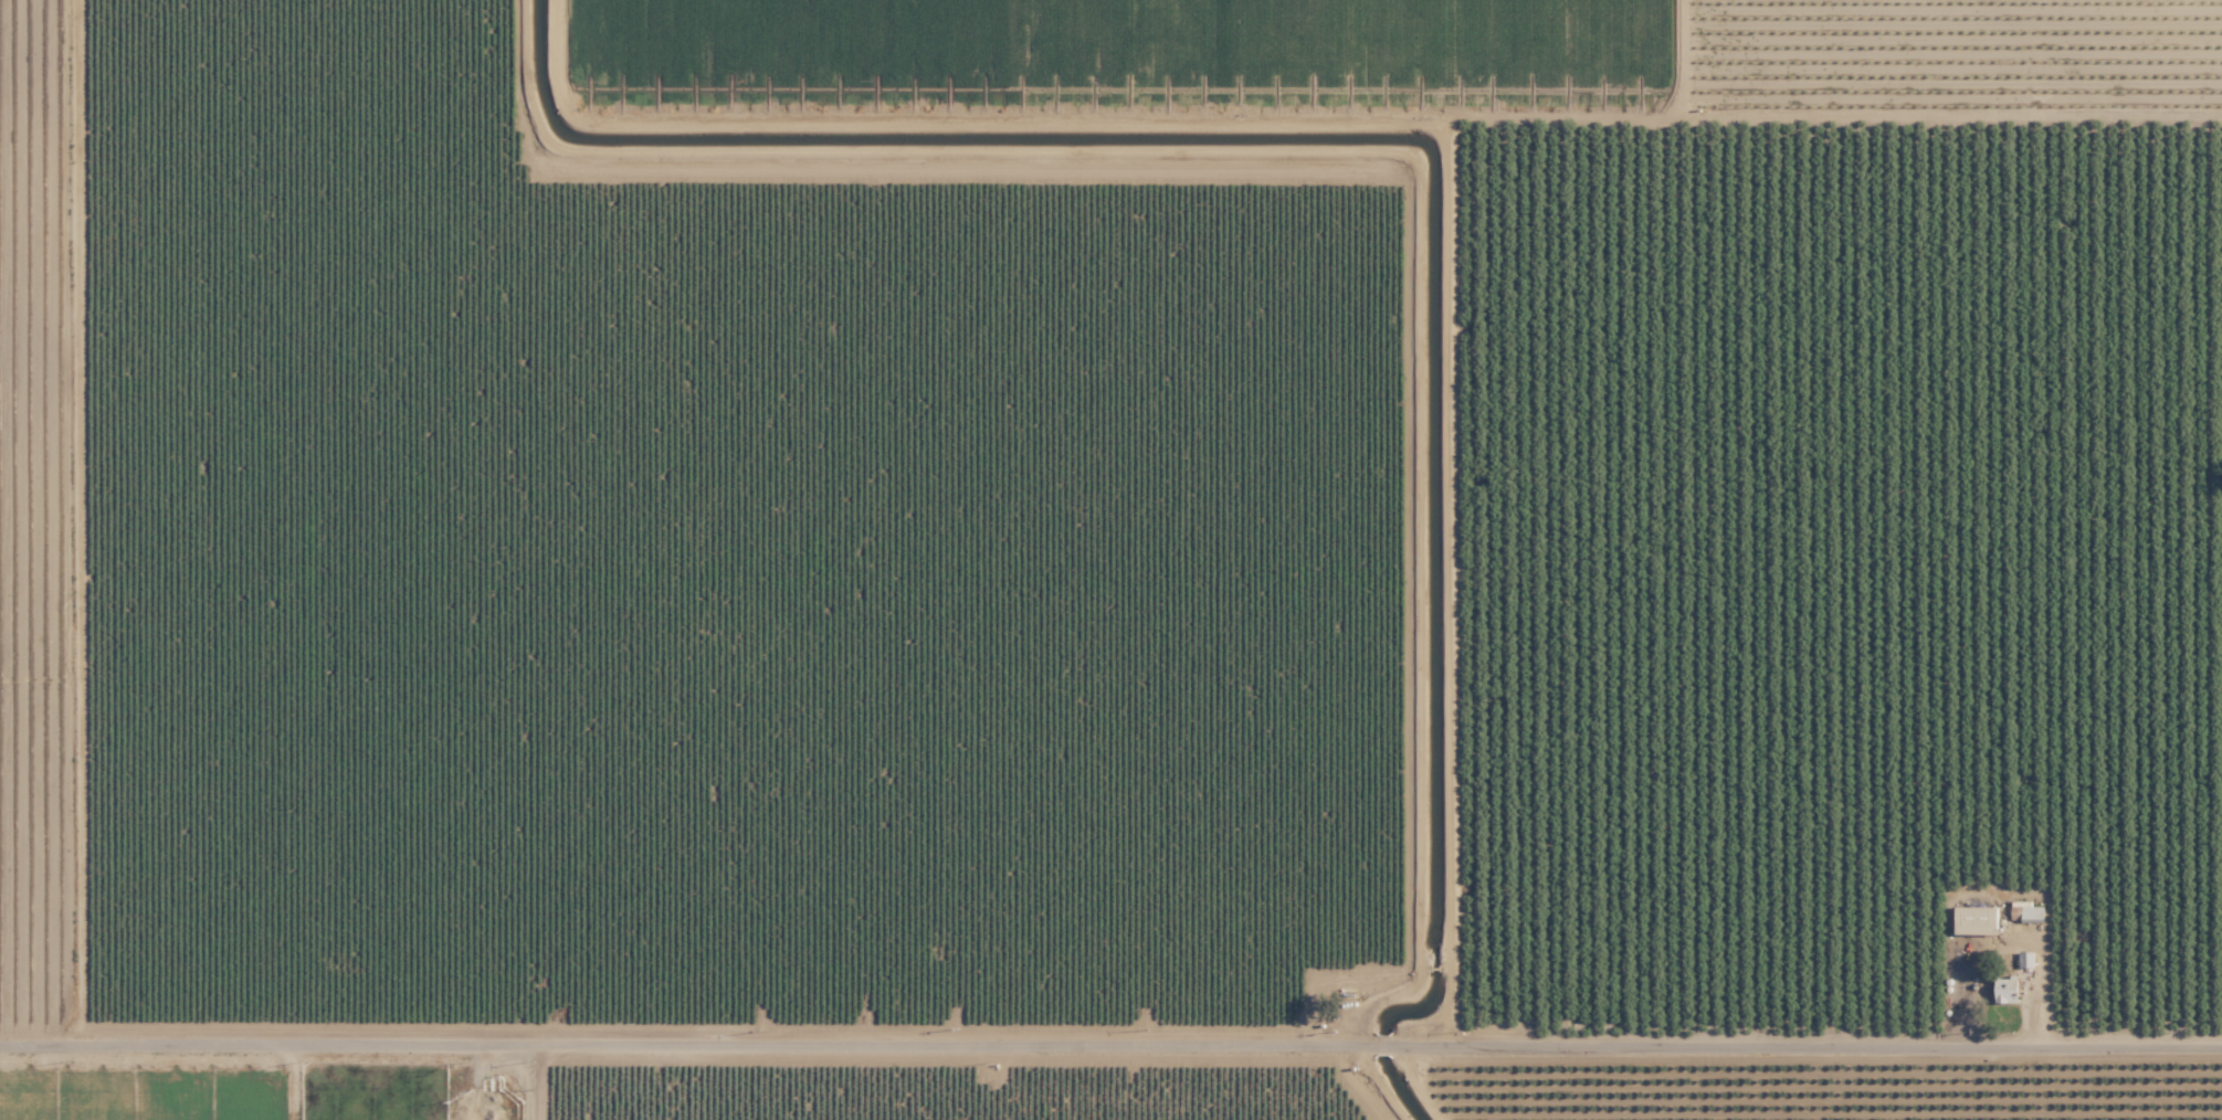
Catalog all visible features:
crop: (875, 46)
crop: (1455, 47)
crop: (1836, 558)
building: (2031, 912)
building: (2004, 989)
road: (1110, 1034)
road: (540, 1077)
crop: (152, 1086)

